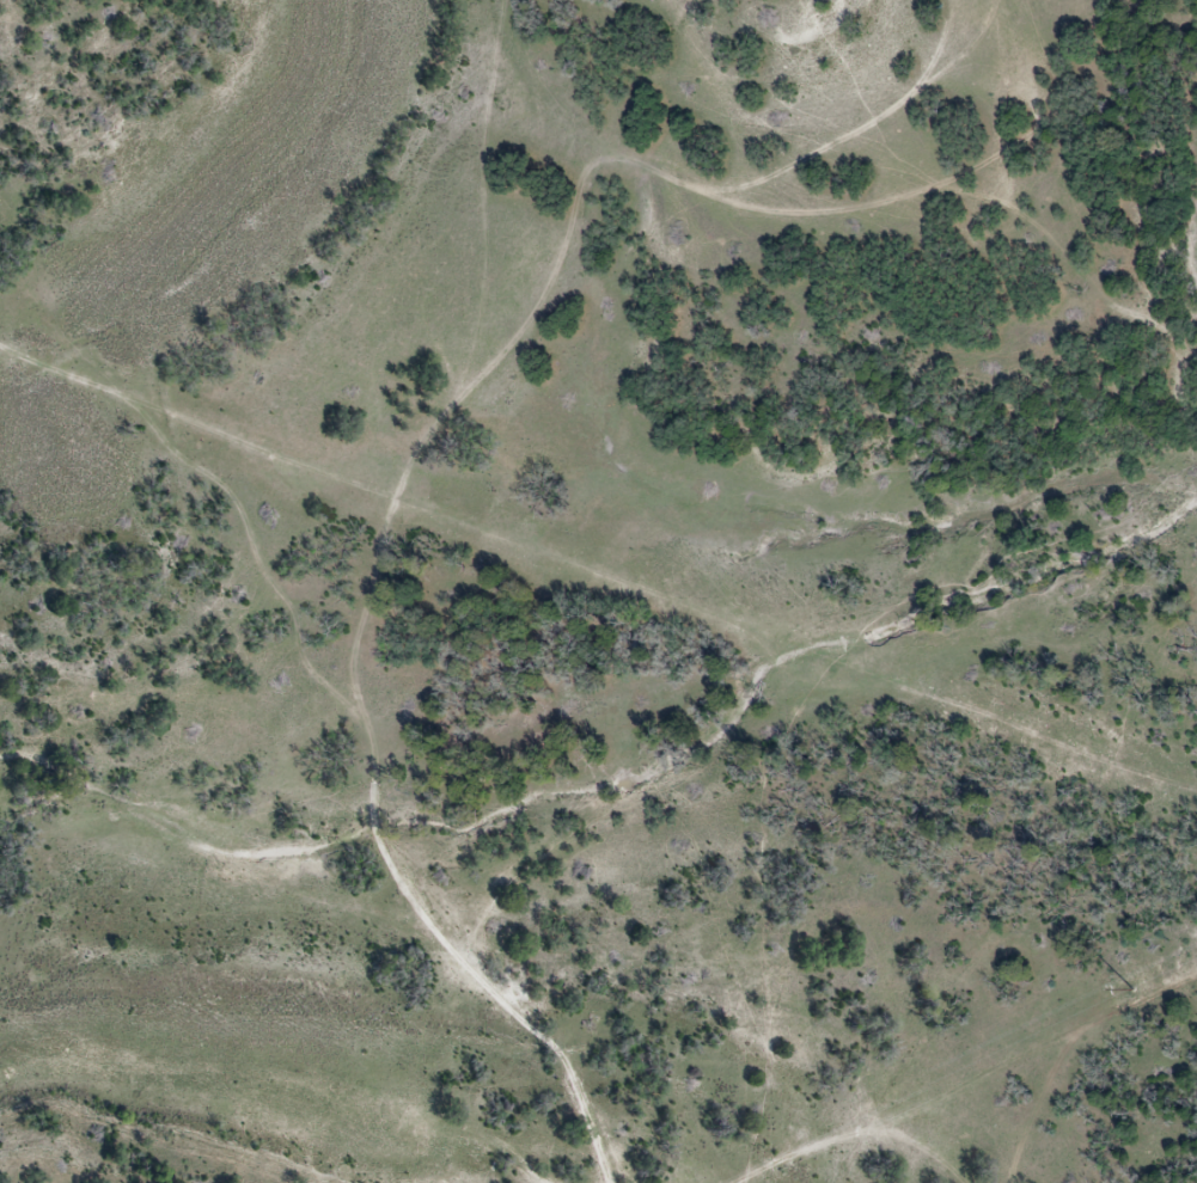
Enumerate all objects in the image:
power tower: (1136, 989)

